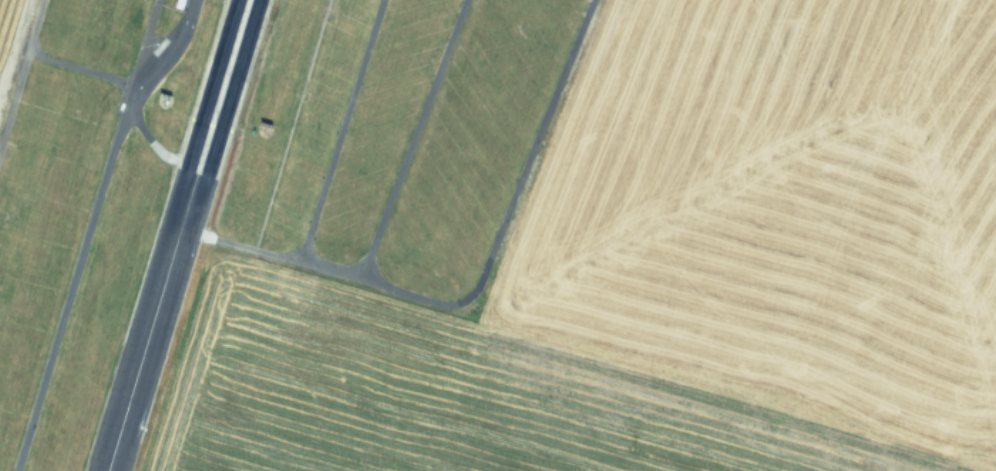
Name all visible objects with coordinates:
crop: (9, 33)
road: (20, 70)
road: (340, 132)
road: (145, 134)
road: (411, 141)
road: (90, 228)
raceway: (176, 235)
road: (480, 274)
crop: (671, 274)

